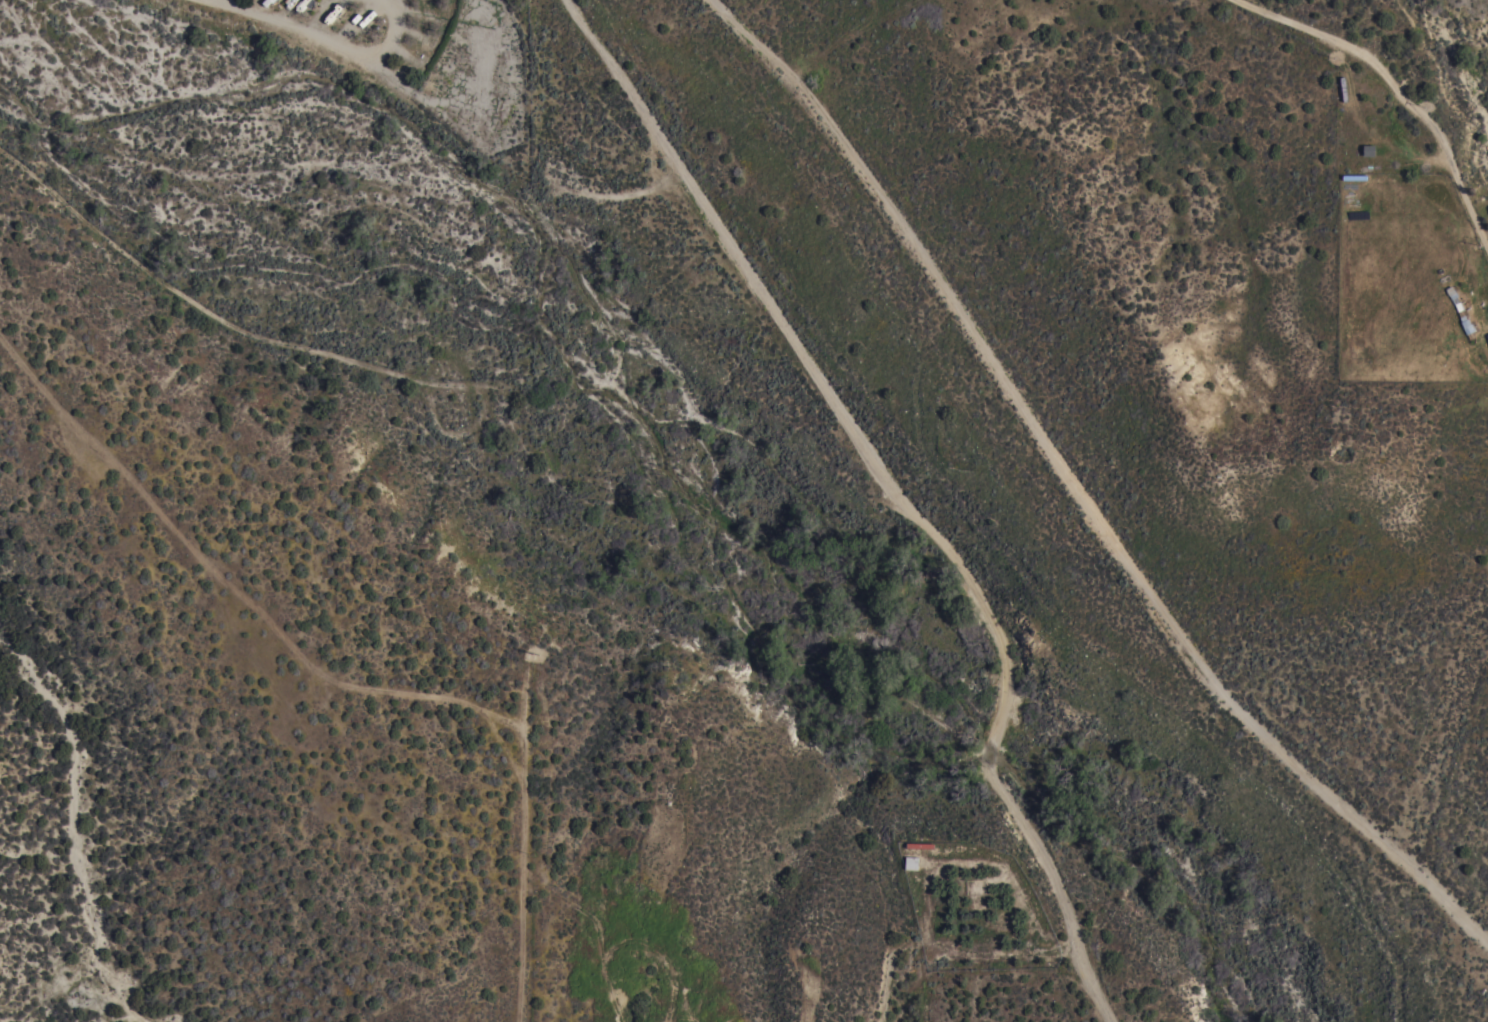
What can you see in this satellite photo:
road: (394, 2)
road: (322, 39)
road: (1399, 87)
building: (1487, 336)
road: (1076, 491)
road: (892, 493)
building: (962, 846)
building: (911, 863)
road: (928, 875)

